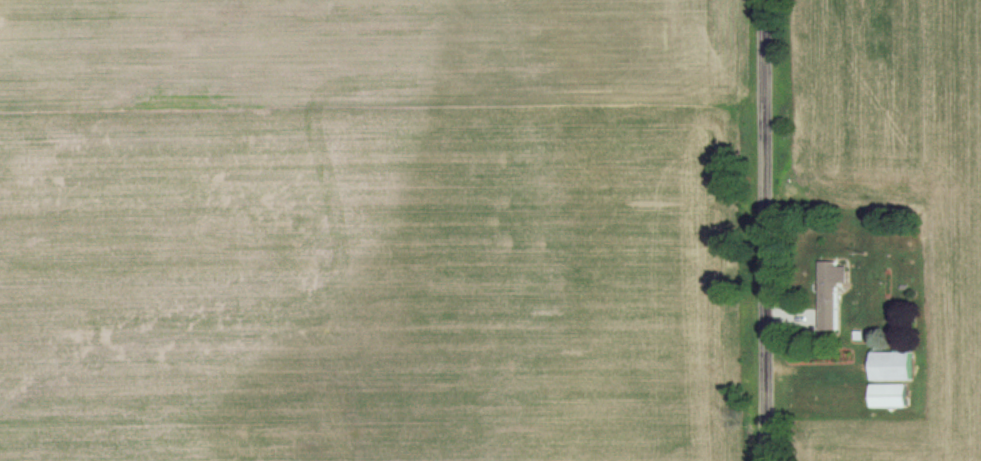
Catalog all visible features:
road: (766, 230)
building: (831, 295)
building: (893, 368)
building: (891, 398)

